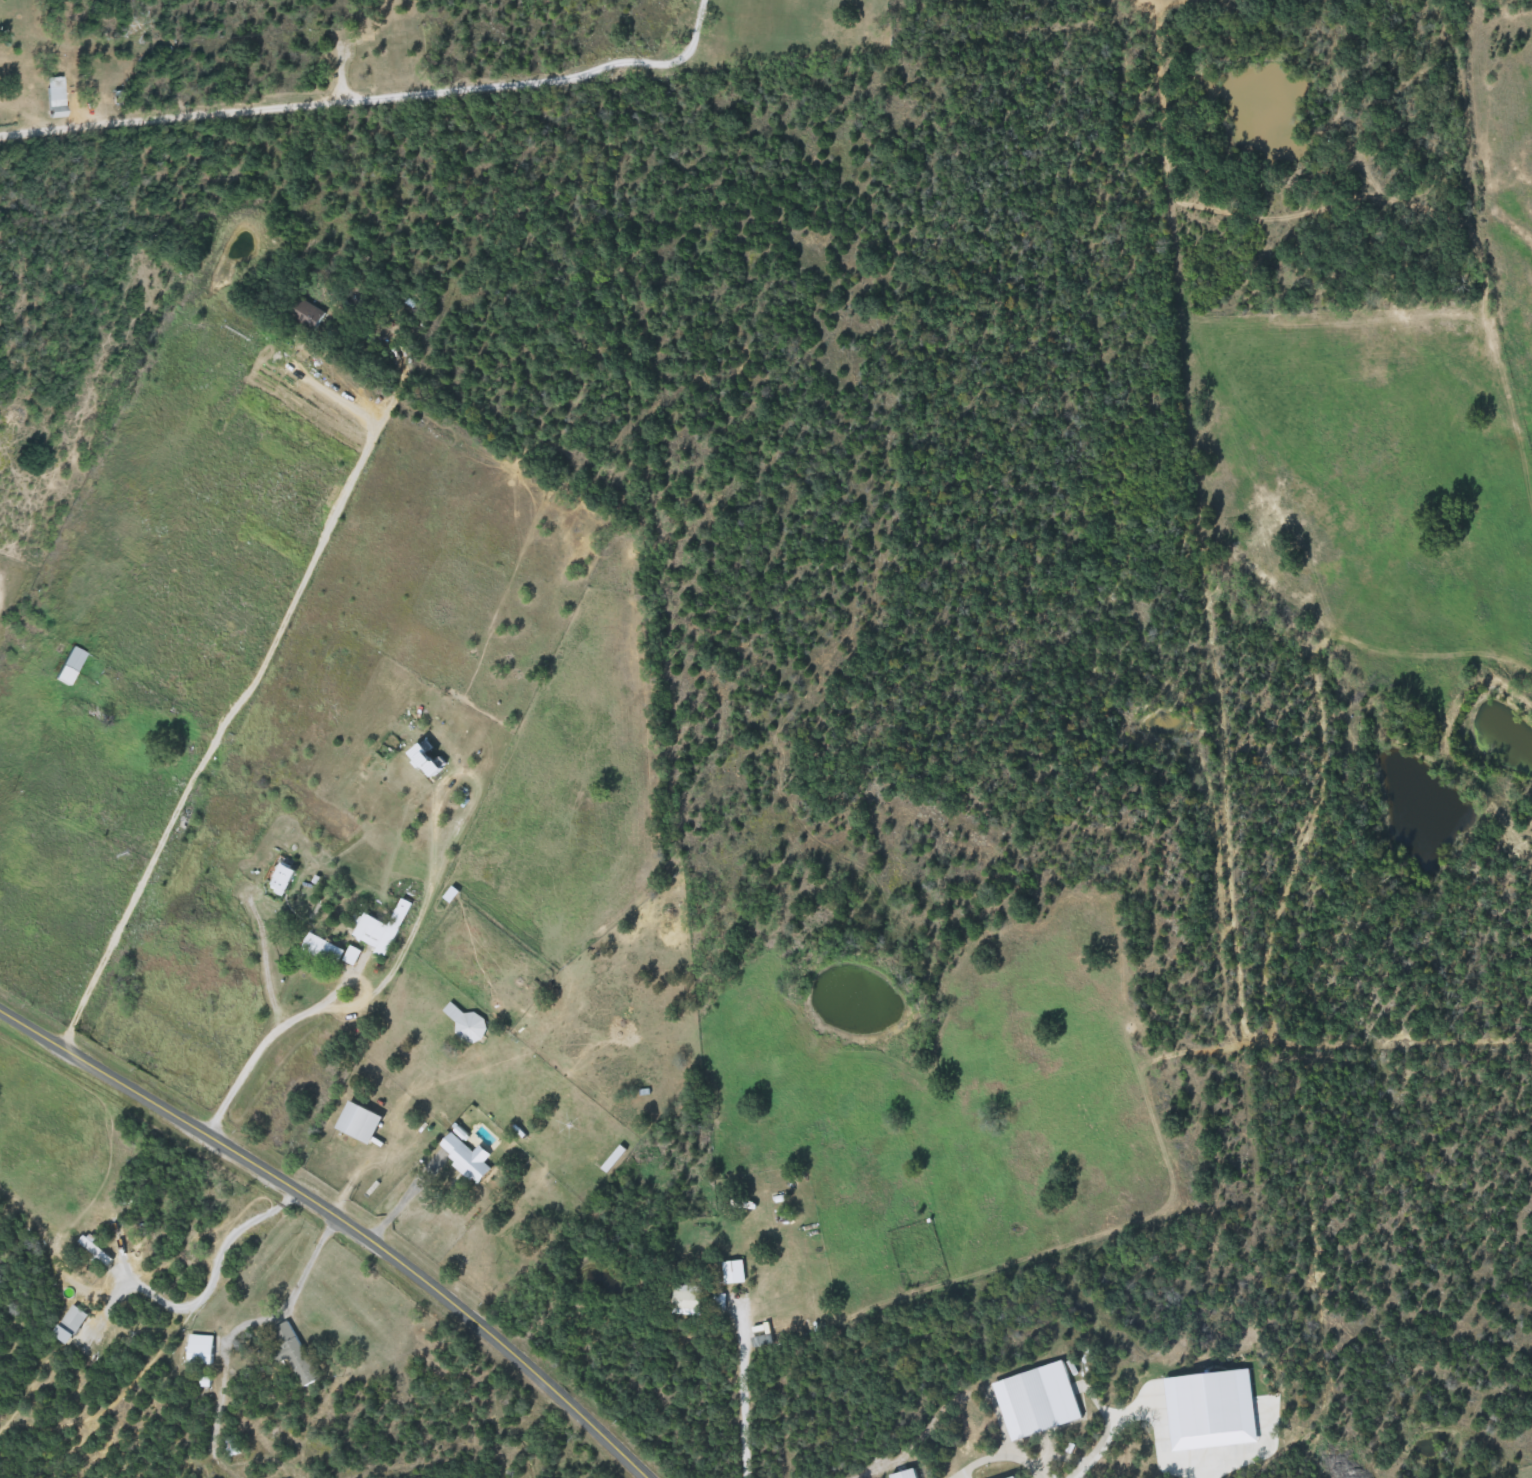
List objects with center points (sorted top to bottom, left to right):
road: (372, 99)
building: (56, 102)
road: (392, 318)
road: (311, 568)
building: (70, 666)
building: (286, 880)
road: (135, 890)
building: (381, 929)
building: (334, 950)
building: (465, 1022)
road: (259, 1045)
building: (363, 1122)
road: (428, 1149)
building: (466, 1158)
road: (342, 1218)
building: (97, 1250)
building: (688, 1300)
building: (74, 1324)
building: (202, 1349)
building: (293, 1351)
road: (741, 1390)
building: (1028, 1404)
road: (1006, 1456)
building: (908, 1474)
building: (1020, 1477)

